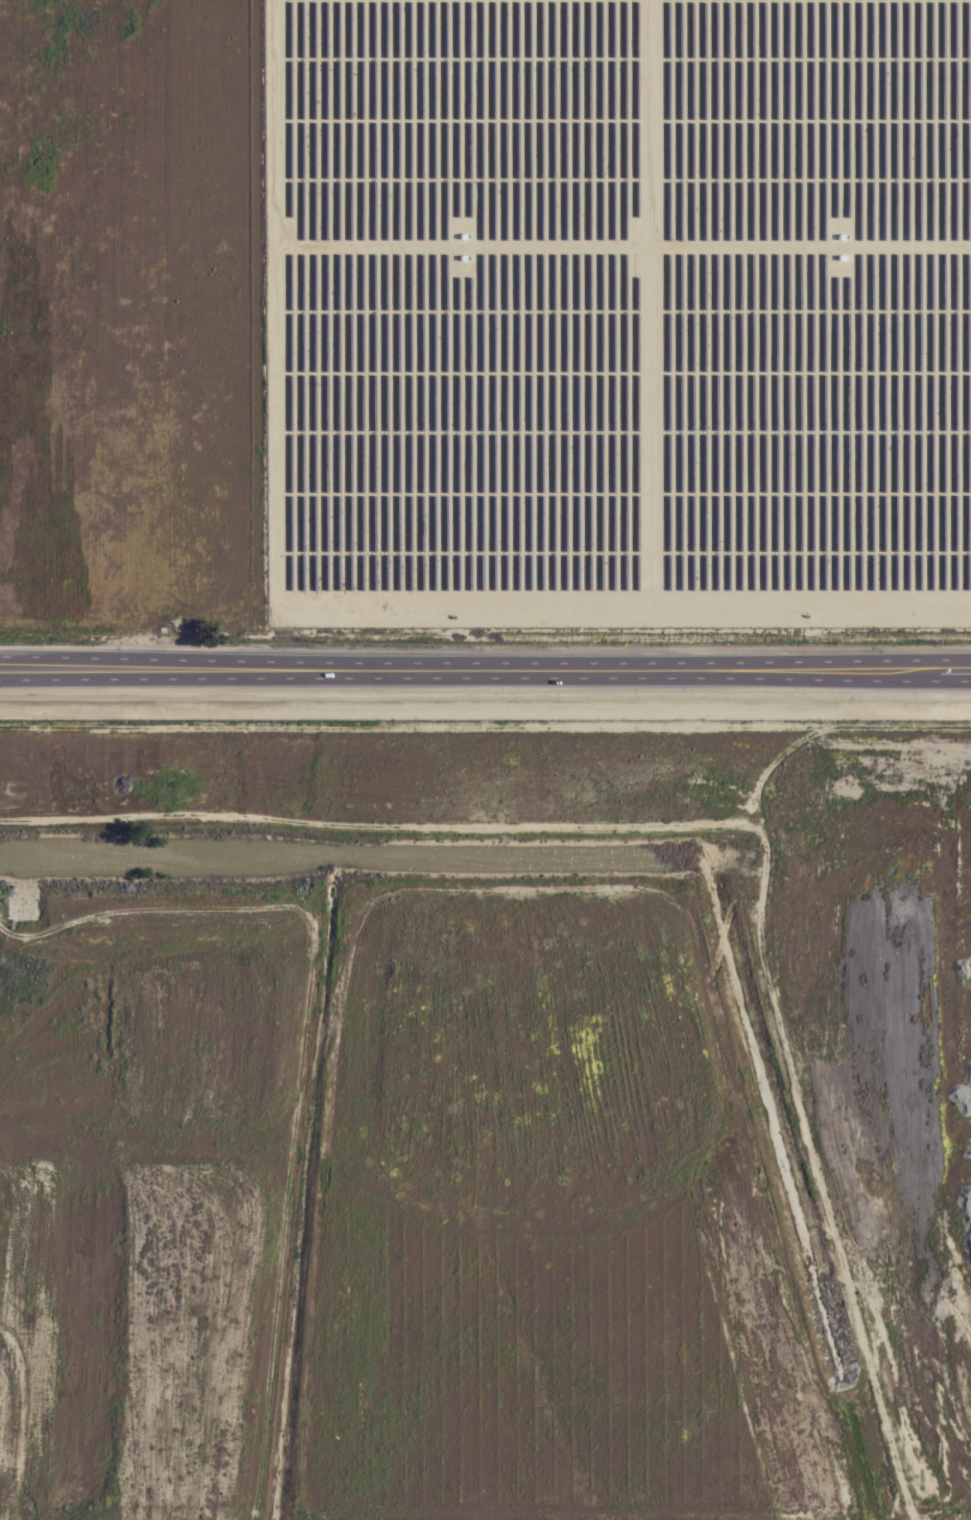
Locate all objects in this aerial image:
solar farm: (617, 313)
crop: (487, 344)
road: (485, 673)

